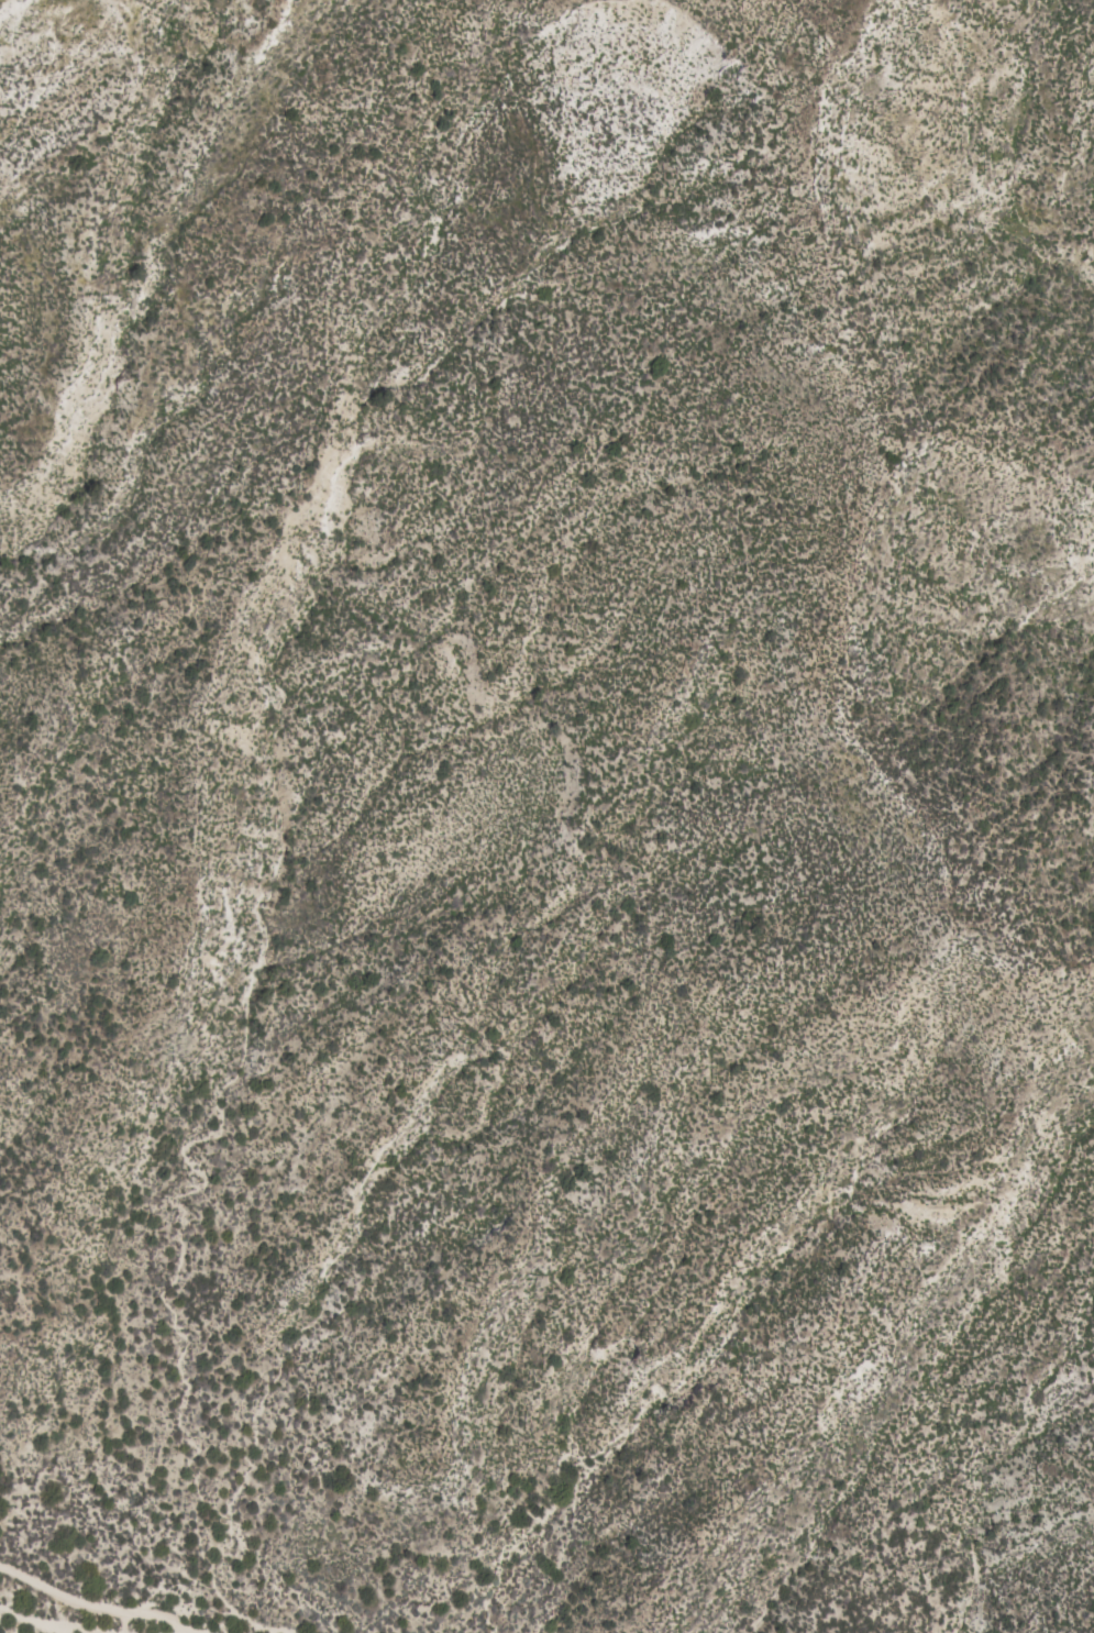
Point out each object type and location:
road: (90, 1597)

